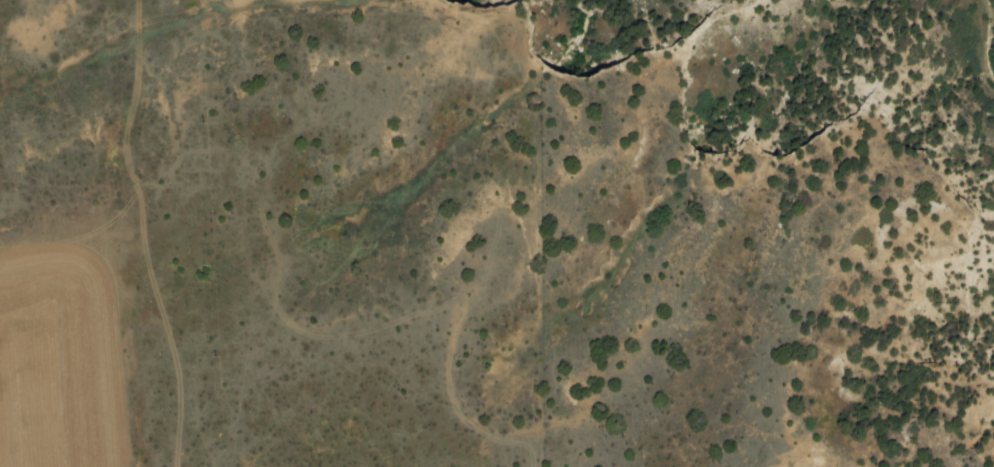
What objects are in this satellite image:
road: (144, 233)
crop: (77, 246)
road: (537, 452)

